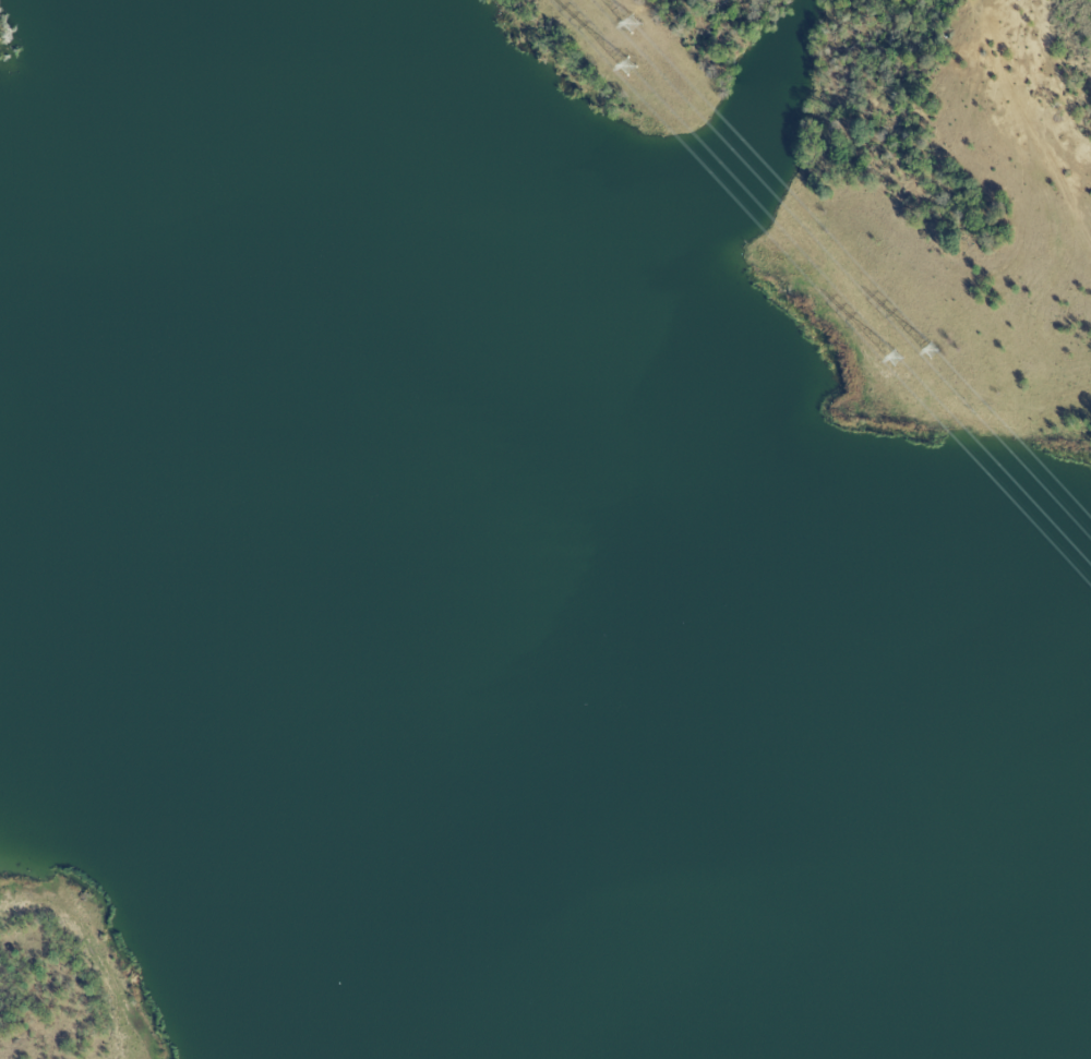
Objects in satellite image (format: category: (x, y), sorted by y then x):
power tower: (636, 27)
power tower: (634, 70)
power tower: (909, 358)
power tower: (947, 358)

